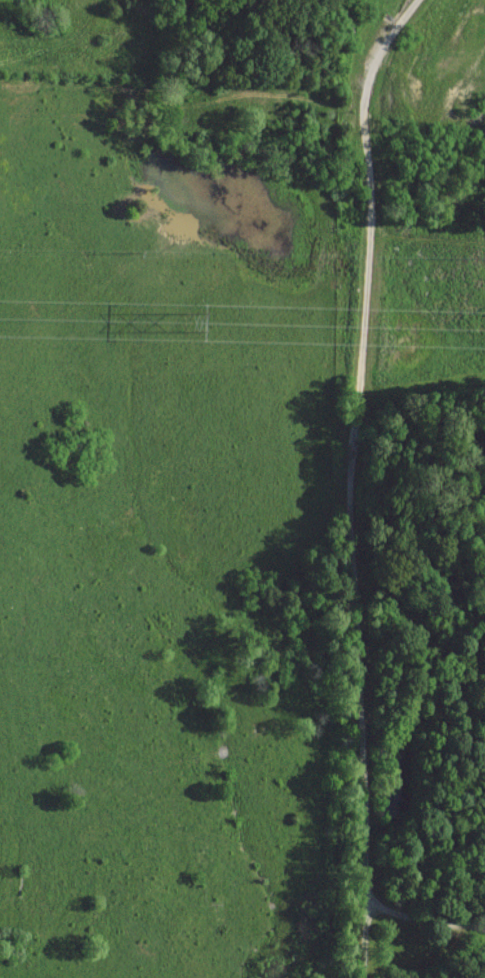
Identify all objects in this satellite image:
power tower: (186, 321)
road: (351, 481)
road: (425, 915)

